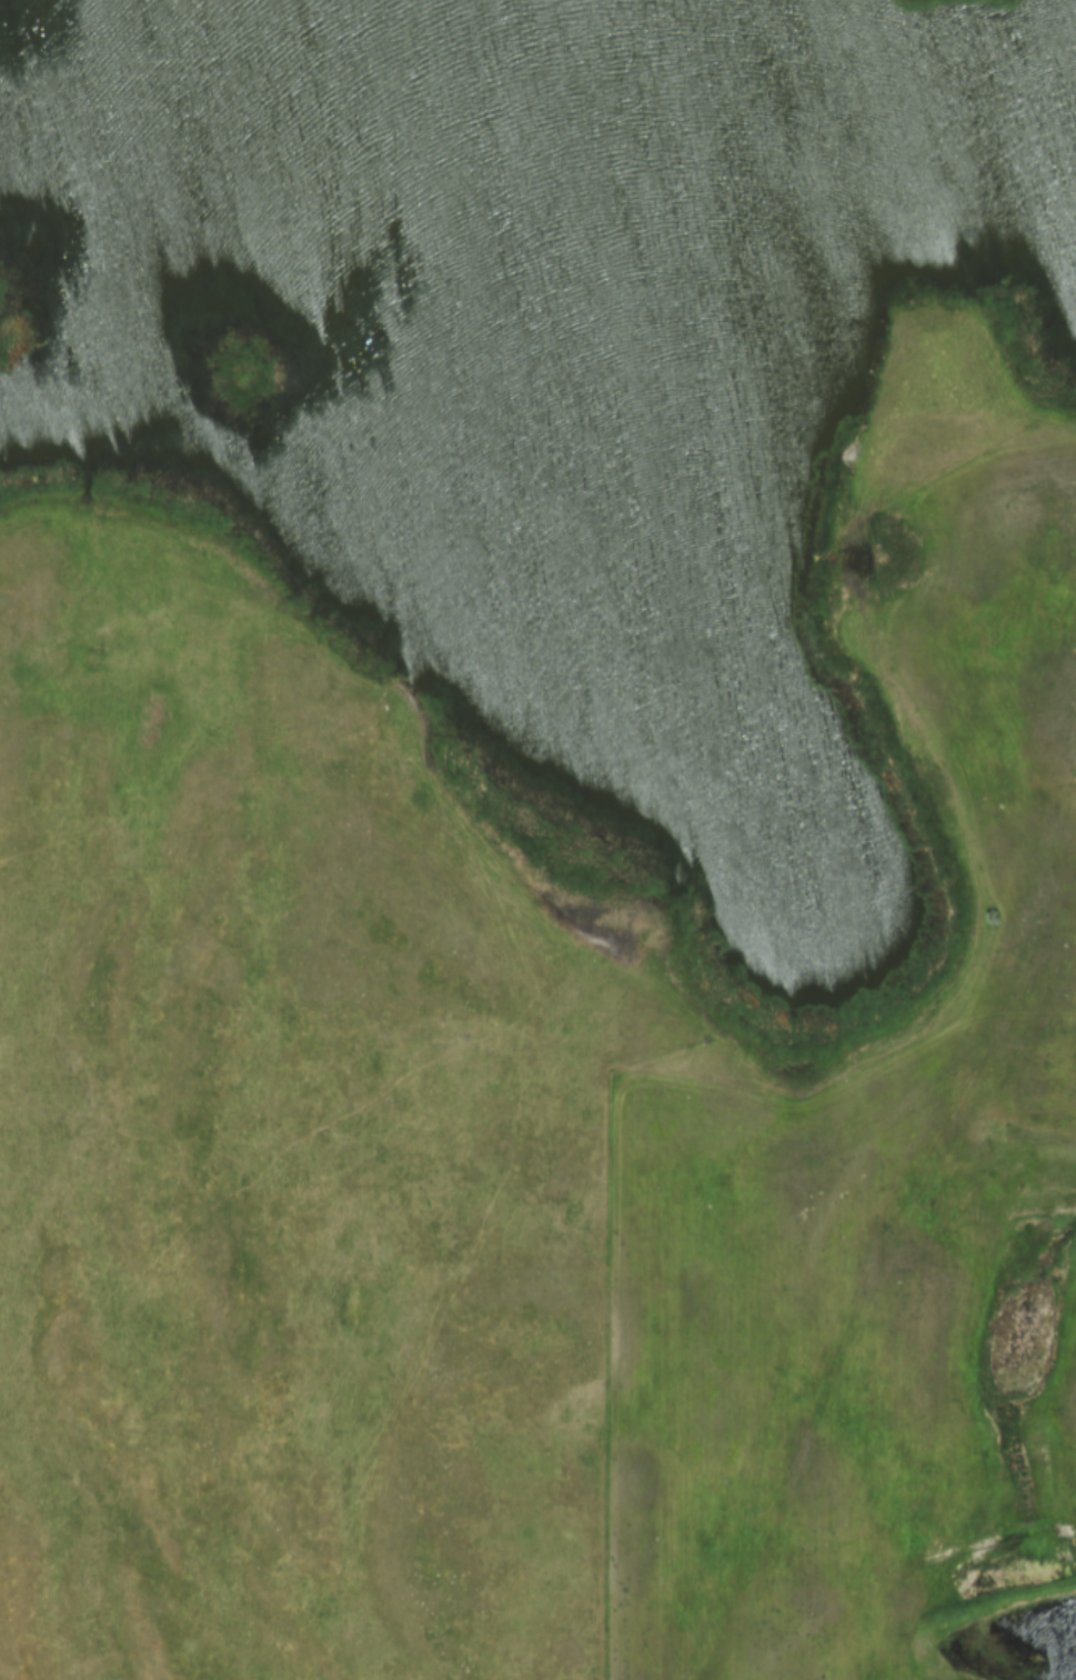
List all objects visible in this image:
dam: (993, 1601)

